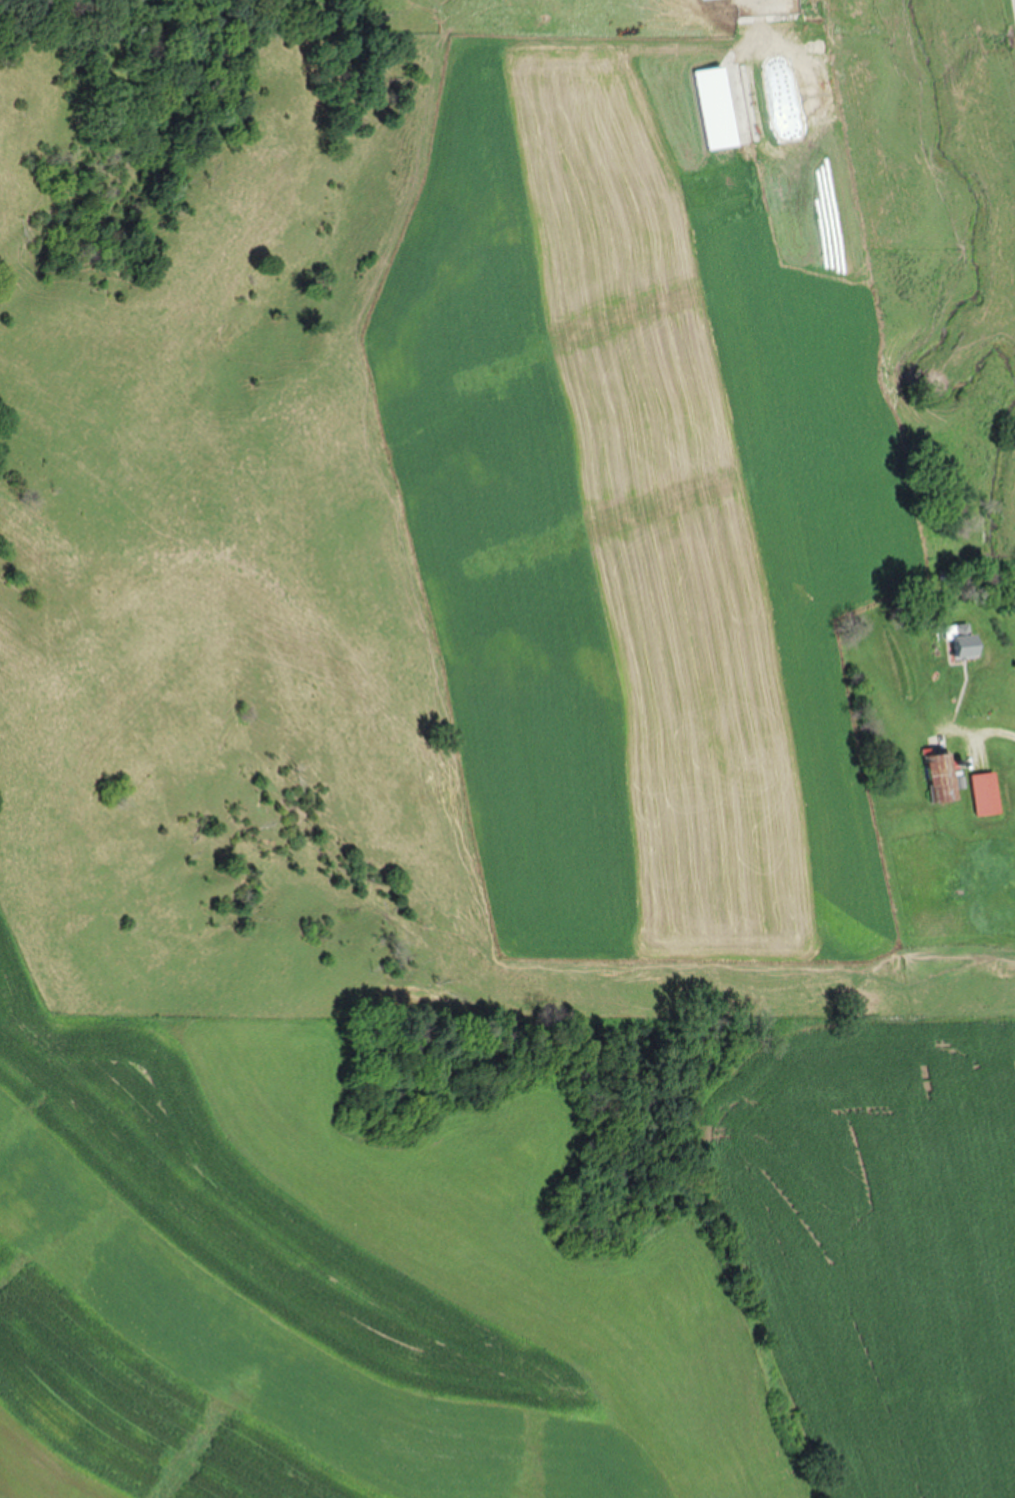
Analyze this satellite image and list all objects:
road: (1014, 2)
building: (797, 75)
building: (955, 631)
building: (965, 650)
road: (994, 735)
building: (940, 776)

